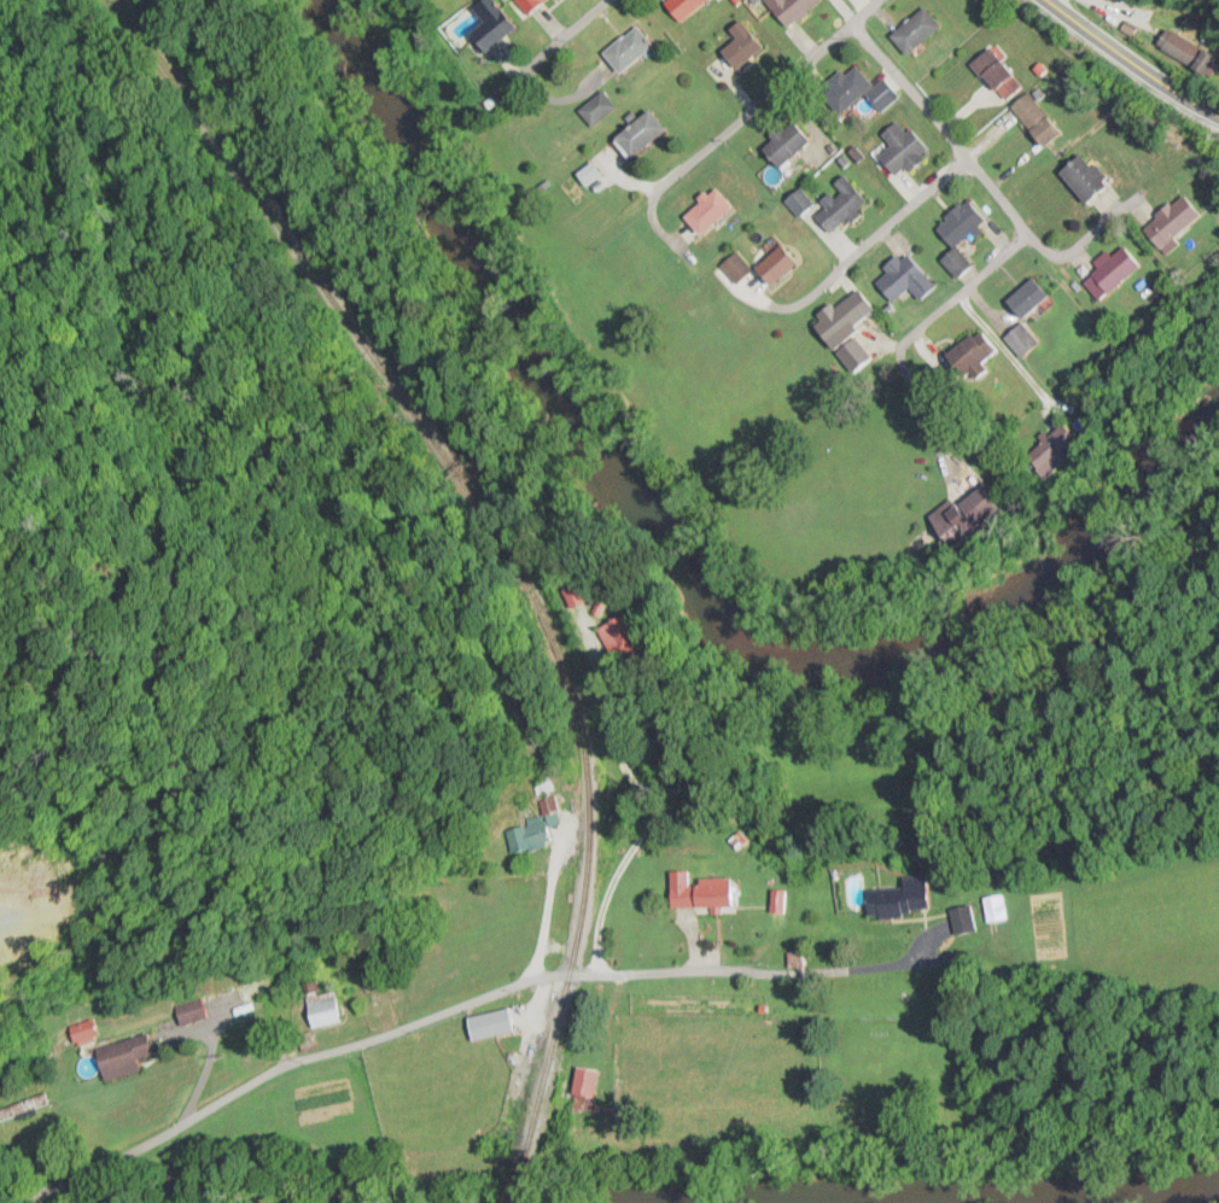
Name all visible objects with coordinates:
building: (682, 7)
building: (791, 8)
building: (489, 25)
building: (915, 30)
road: (572, 31)
building: (626, 49)
building: (740, 49)
road: (1131, 60)
building: (996, 74)
building: (857, 90)
road: (770, 95)
building: (1034, 119)
building: (638, 134)
building: (783, 144)
building: (900, 150)
building: (1081, 177)
road: (947, 179)
building: (840, 205)
building: (707, 210)
building: (1171, 222)
building: (958, 235)
road: (1050, 256)
building: (758, 265)
building: (1110, 274)
building: (904, 279)
road: (969, 287)
building: (1025, 313)
building: (840, 316)
building: (853, 355)
building: (969, 356)
building: (1054, 451)
building: (966, 516)
railway: (506, 527)
river: (676, 570)
building: (577, 596)
building: (620, 635)
building: (530, 833)
building: (698, 892)
building: (899, 899)
building: (995, 907)
building: (963, 919)
building: (322, 1009)
building: (187, 1012)
road: (438, 1014)
building: (489, 1024)
building: (118, 1059)
building: (583, 1082)
railway: (518, 1180)
river: (1148, 1191)

